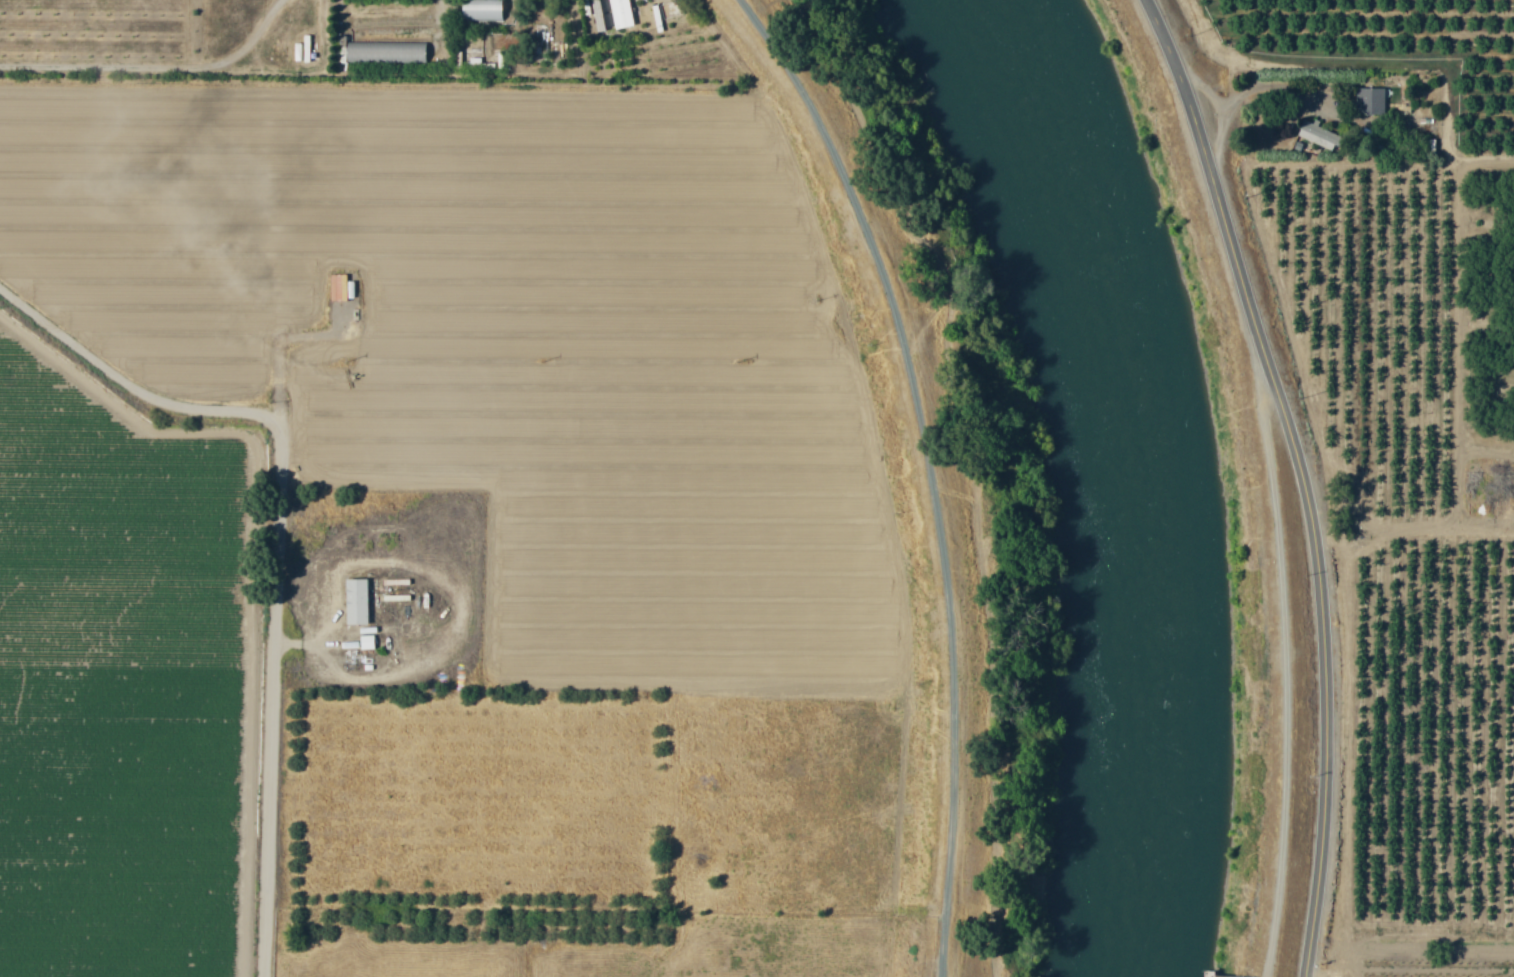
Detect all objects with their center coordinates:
building: (486, 11)
building: (616, 15)
building: (388, 52)
road: (156, 67)
road: (1260, 95)
building: (1370, 102)
building: (1316, 135)
building: (341, 287)
road: (926, 468)
river: (1131, 474)
road: (1308, 476)
road: (275, 546)
building: (360, 601)
building: (369, 642)

